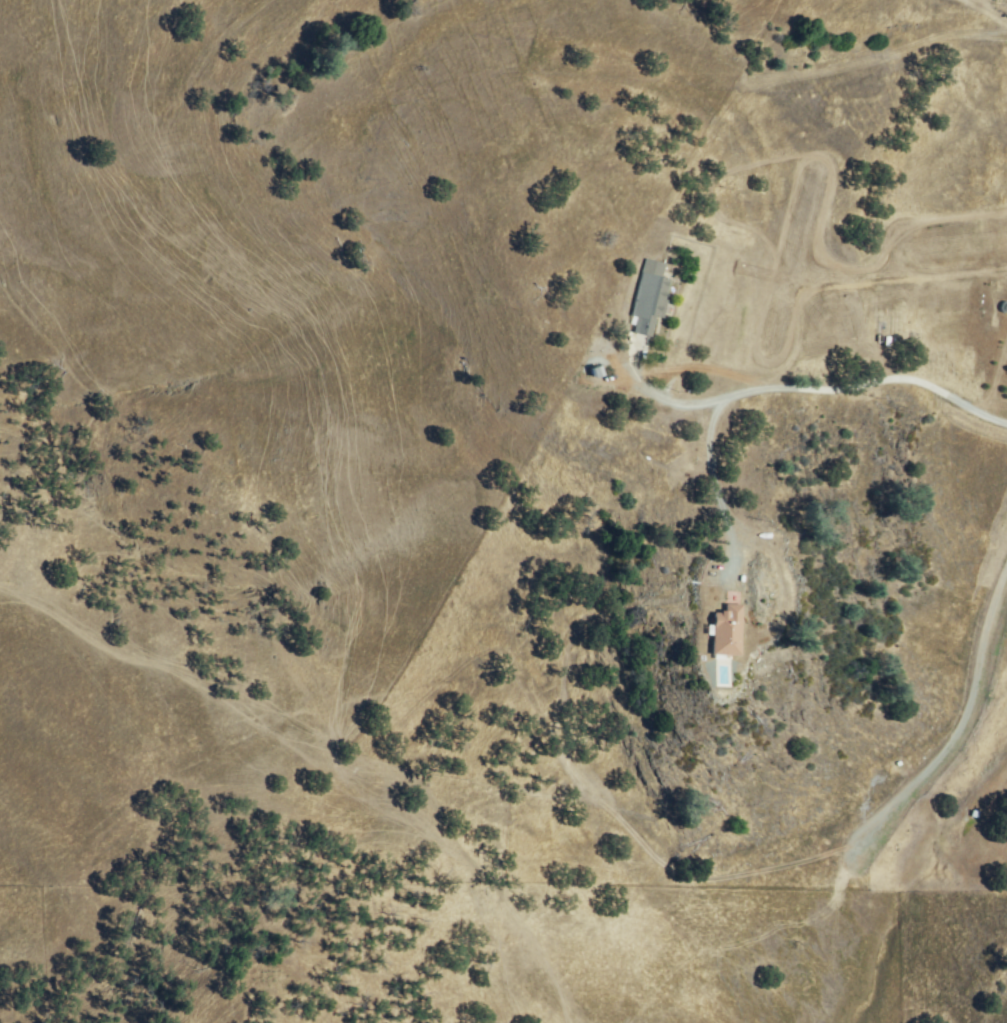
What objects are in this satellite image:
building: (650, 299)
road: (777, 389)
road: (664, 400)
building: (727, 632)
road: (963, 710)

